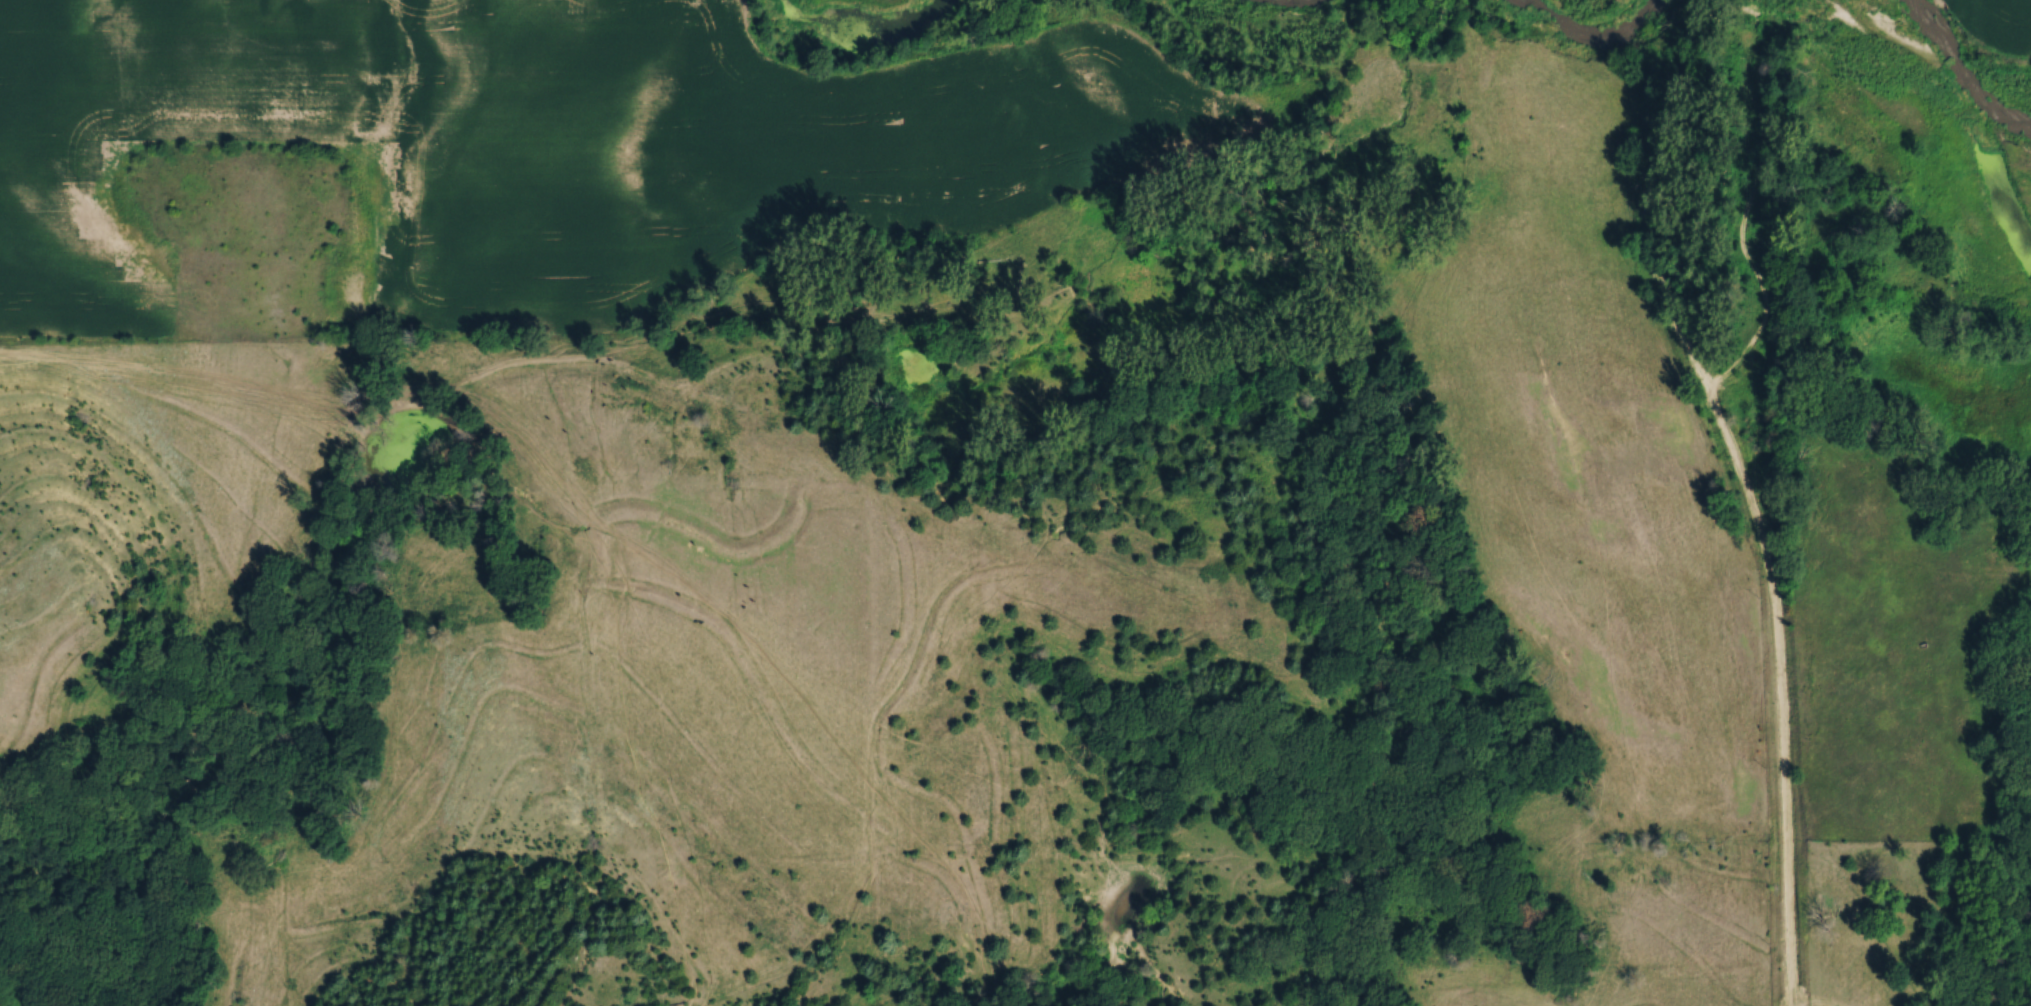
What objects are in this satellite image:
road: (1747, 492)

